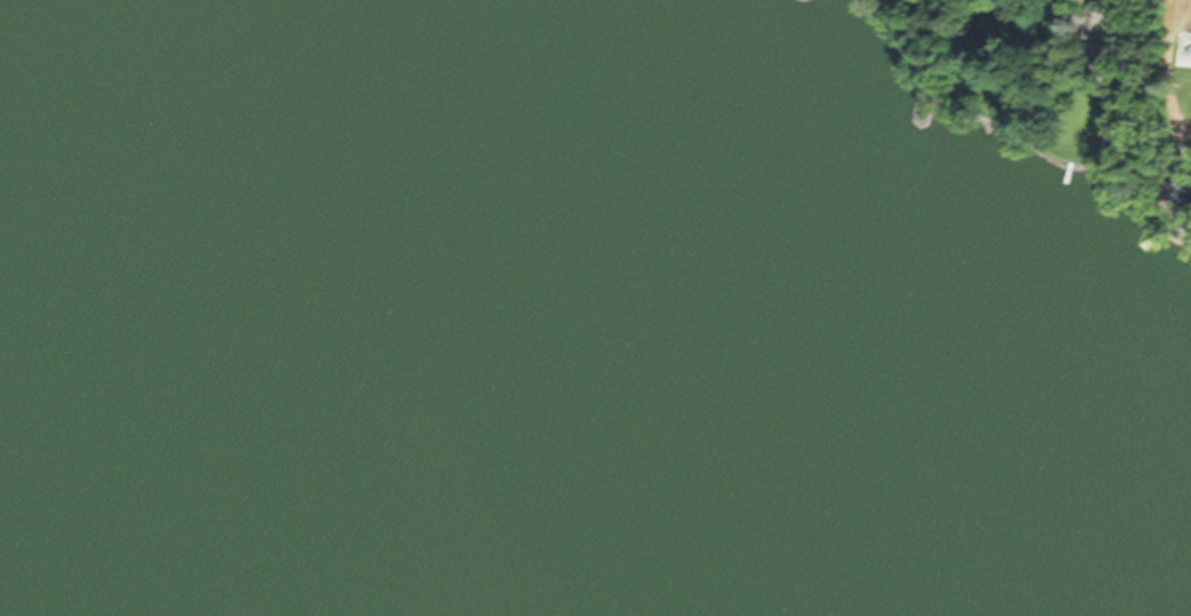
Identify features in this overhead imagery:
building: (1104, 24)
building: (1185, 50)
building: (1110, 151)
building: (1183, 195)

